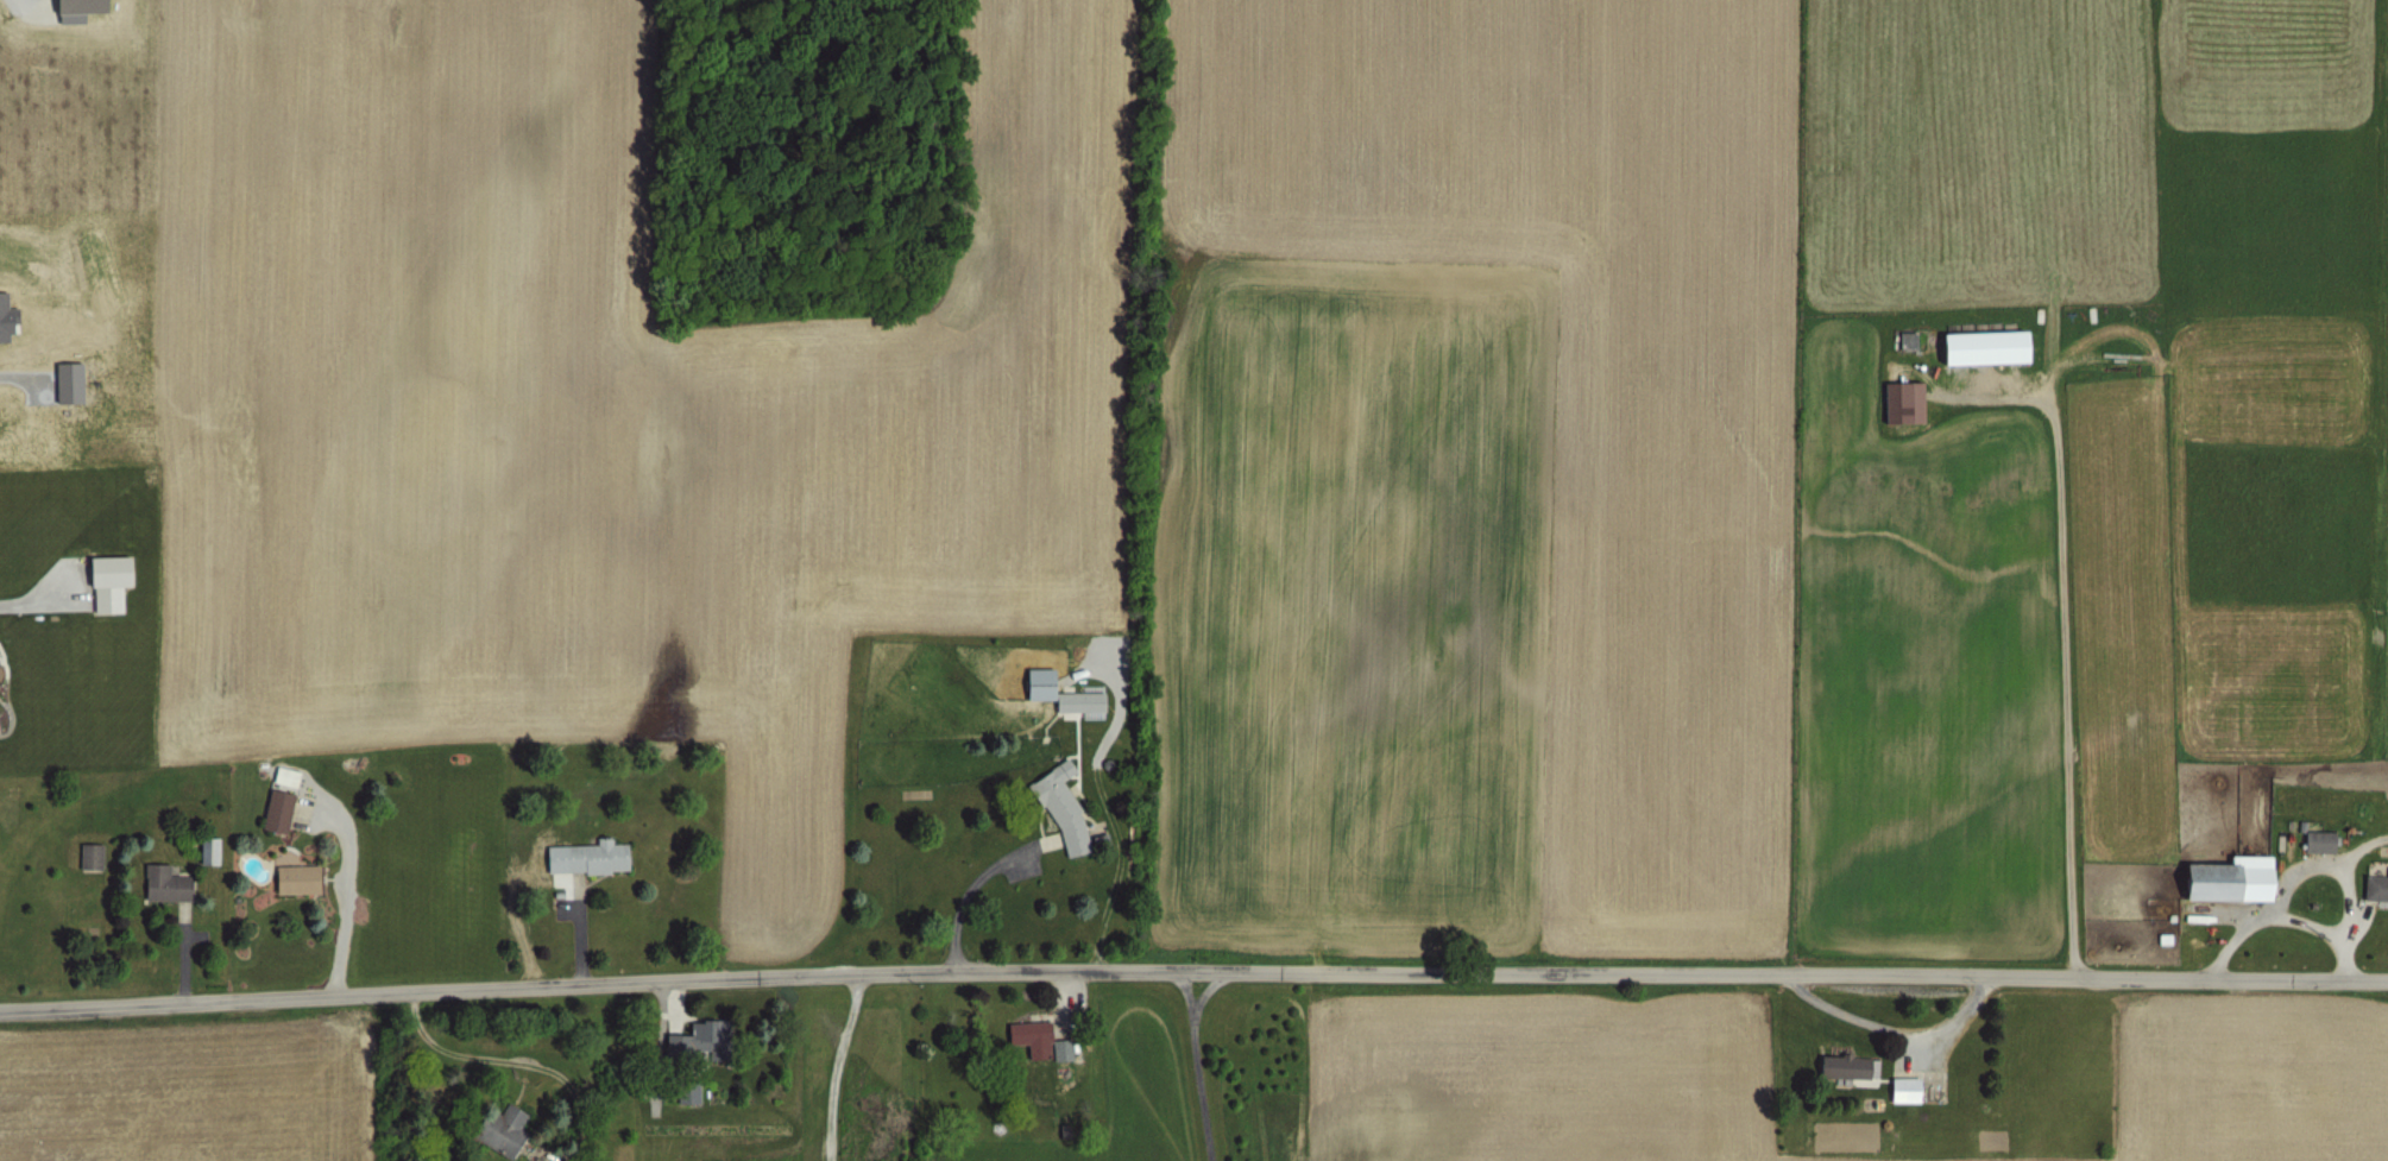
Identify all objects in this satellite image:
building: (70, 8)
building: (6, 316)
building: (1901, 342)
building: (1978, 343)
road: (17, 374)
building: (64, 380)
building: (1896, 400)
crop: (1246, 434)
building: (106, 575)
road: (37, 595)
road: (2062, 629)
building: (1038, 689)
building: (1077, 705)
building: (279, 775)
building: (272, 808)
building: (284, 810)
building: (1056, 812)
building: (2314, 839)
building: (203, 848)
building: (216, 851)
building: (84, 854)
building: (97, 857)
building: (578, 862)
road: (2313, 862)
building: (290, 877)
building: (2220, 878)
building: (158, 883)
building: (2375, 884)
road: (344, 889)
road: (966, 896)
road: (2346, 901)
road: (2275, 916)
road: (575, 945)
road: (179, 953)
road: (1193, 971)
road: (1059, 997)
road: (1889, 1027)
building: (692, 1034)
building: (1027, 1034)
building: (1057, 1049)
road: (500, 1060)
road: (838, 1065)
road: (1201, 1066)
building: (1840, 1067)
crop: (1217, 1071)
building: (1898, 1089)
building: (683, 1090)
building: (496, 1130)

